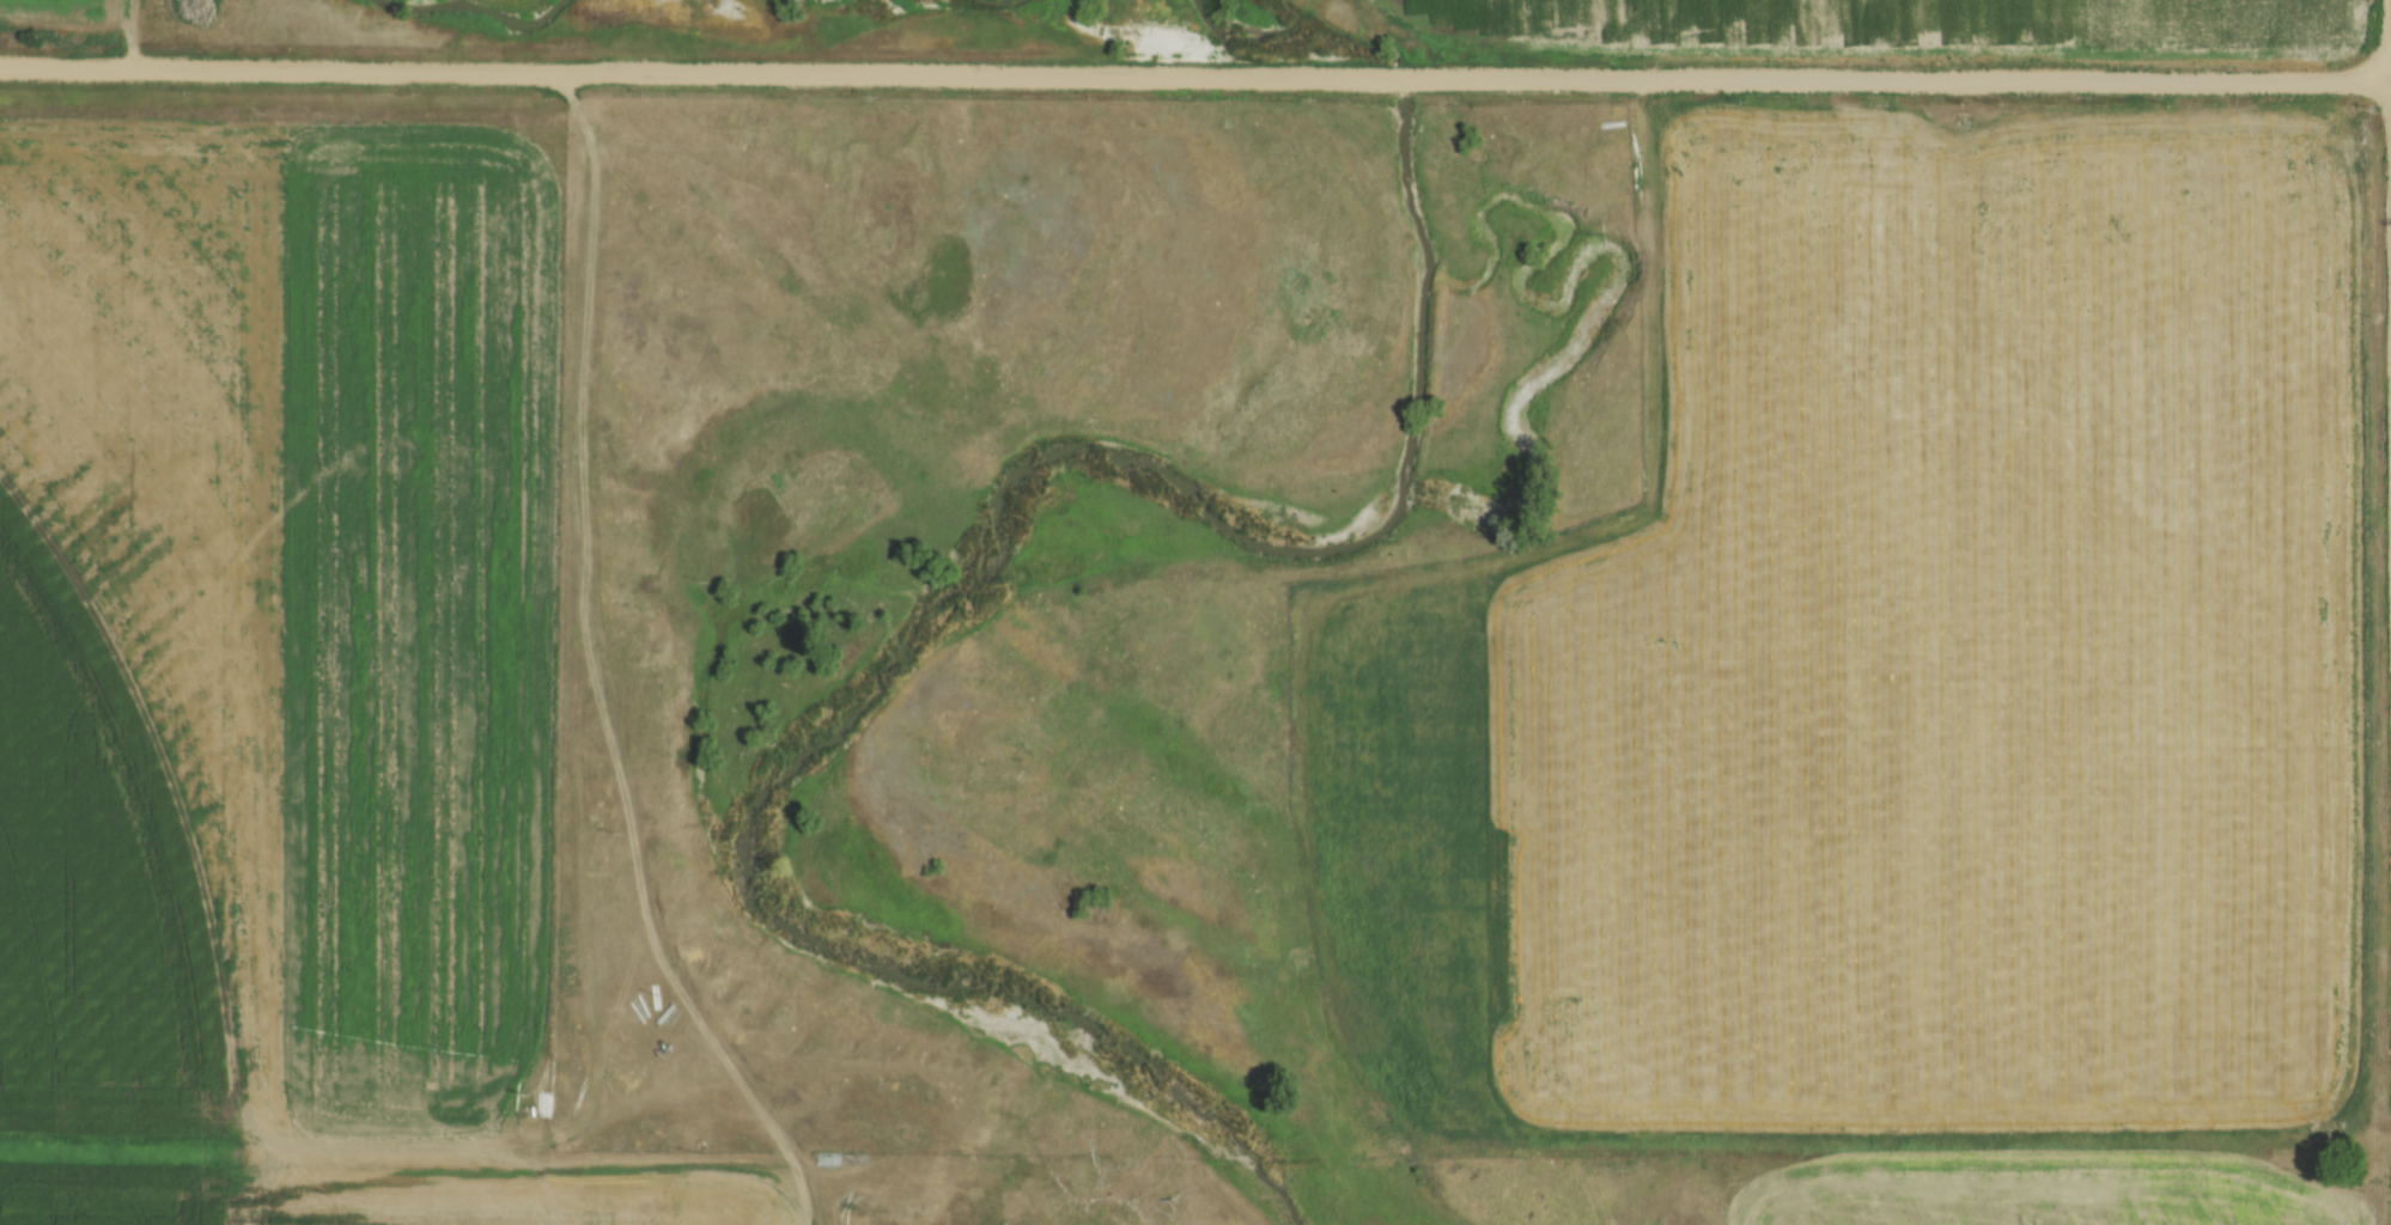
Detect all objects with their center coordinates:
crop: (1930, 22)
road: (1198, 79)
crop: (280, 663)
crop: (1915, 677)
crop: (2036, 1199)

